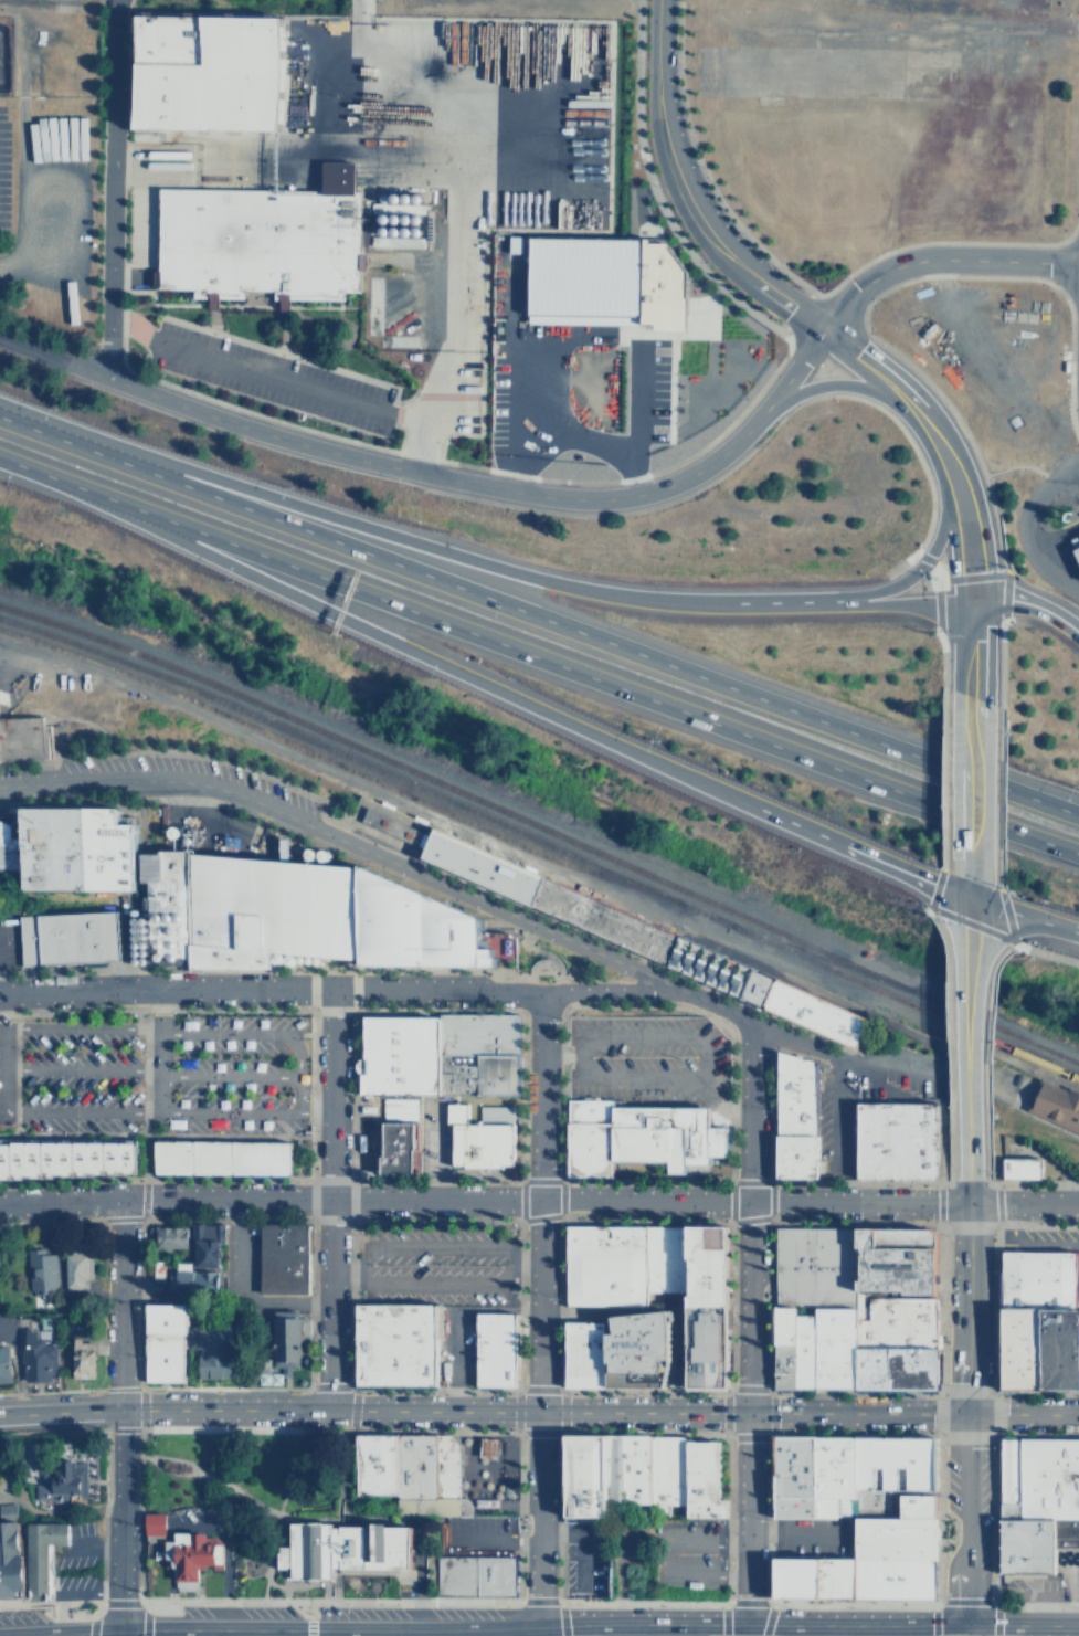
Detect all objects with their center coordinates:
building: (200, 74)
road: (658, 116)
road: (98, 182)
building: (261, 240)
building: (517, 243)
road: (732, 254)
road: (938, 258)
building: (610, 275)
road: (793, 306)
road: (561, 335)
road: (795, 367)
road: (872, 367)
road: (516, 377)
road: (281, 380)
road: (842, 383)
road: (632, 416)
road: (573, 440)
road: (939, 443)
road: (388, 465)
road: (1008, 467)
road: (274, 499)
road: (944, 521)
road: (1017, 532)
road: (965, 539)
building: (1075, 548)
road: (937, 573)
road: (953, 579)
road: (884, 585)
road: (670, 599)
road: (888, 600)
road: (953, 600)
traffic signals: (970, 600)
road: (986, 601)
road: (1043, 608)
road: (539, 616)
road: (373, 631)
road: (969, 647)
road: (538, 657)
railway: (338, 764)
railway: (366, 764)
parking lot: (268, 787)
road: (967, 787)
road: (745, 803)
building: (383, 822)
railway: (541, 827)
road: (347, 842)
building: (73, 846)
building: (8, 849)
building: (483, 865)
road: (892, 867)
road: (967, 888)
road: (953, 894)
traffic signals: (967, 899)
road: (988, 905)
building: (245, 908)
road: (967, 912)
road: (1045, 919)
building: (605, 920)
building: (408, 925)
building: (66, 937)
parking lot: (6, 939)
road: (536, 940)
road: (1023, 946)
railway: (816, 957)
park: (553, 964)
building: (708, 964)
road: (562, 981)
building: (755, 985)
road: (379, 988)
railway: (903, 1001)
building: (813, 1012)
road: (80, 1025)
road: (159, 1031)
road: (244, 1033)
building: (399, 1053)
building: (477, 1053)
road: (844, 1054)
road: (966, 1054)
parking lot: (646, 1058)
road: (80, 1069)
road: (209, 1074)
parking lot: (152, 1078)
road: (702, 1081)
road: (297, 1090)
railway: (1027, 1100)
building: (1056, 1105)
road: (314, 1107)
road: (835, 1111)
road: (80, 1112)
road: (230, 1112)
building: (495, 1112)
building: (794, 1115)
road: (1027, 1115)
road: (135, 1129)
road: (67, 1136)
building: (637, 1137)
building: (896, 1139)
building: (477, 1140)
building: (395, 1146)
building: (224, 1157)
building: (68, 1159)
building: (1015, 1167)
road: (144, 1188)
road: (966, 1193)
road: (329, 1197)
road: (483, 1199)
road: (1023, 1205)
building: (167, 1237)
road: (1025, 1243)
parking lot: (1051, 1243)
building: (205, 1244)
building: (665, 1256)
building: (283, 1258)
building: (895, 1258)
road: (520, 1259)
parking lot: (435, 1263)
road: (504, 1263)
building: (604, 1263)
road: (345, 1264)
building: (706, 1264)
building: (814, 1264)
building: (76, 1268)
building: (41, 1273)
building: (1037, 1276)
building: (187, 1281)
road: (119, 1305)
road: (594, 1307)
road: (654, 1307)
road: (675, 1307)
road: (537, 1308)
road: (964, 1309)
road: (453, 1316)
road: (748, 1322)
building: (300, 1323)
building: (783, 1323)
building: (284, 1342)
building: (896, 1342)
building: (395, 1343)
parking lot: (454, 1343)
building: (163, 1344)
building: (804, 1344)
building: (706, 1345)
building: (834, 1345)
building: (1020, 1345)
building: (1059, 1345)
building: (635, 1347)
building: (495, 1349)
building: (584, 1351)
building: (215, 1355)
building: (38, 1358)
building: (81, 1358)
building: (258, 1359)
road: (677, 1359)
building: (4, 1364)
building: (783, 1365)
road: (59, 1412)
road: (597, 1412)
road: (340, 1421)
building: (488, 1447)
building: (895, 1461)
road: (329, 1464)
building: (372, 1464)
building: (413, 1464)
building: (444, 1466)
road: (200, 1468)
building: (626, 1469)
building: (1008, 1469)
road: (172, 1471)
building: (666, 1473)
building: (834, 1474)
building: (794, 1475)
building: (583, 1477)
building: (1048, 1477)
building: (701, 1478)
building: (53, 1484)
park: (253, 1489)
building: (501, 1492)
building: (917, 1503)
building: (430, 1506)
road: (265, 1509)
building: (1008, 1509)
road: (341, 1510)
road: (116, 1518)
road: (963, 1518)
building: (154, 1520)
parking lot: (473, 1533)
parking lot: (812, 1535)
building: (892, 1535)
building: (1033, 1542)
building: (343, 1547)
road: (222, 1551)
building: (25, 1554)
building: (186, 1554)
parking lot: (667, 1554)
parking lot: (583, 1558)
building: (476, 1574)
building: (813, 1575)
building: (893, 1576)
road: (263, 1579)
road: (597, 1627)
road: (57, 1630)
road: (115, 1632)
road: (167, 1632)
road: (331, 1632)
road: (581, 1632)
park: (955, 1635)

